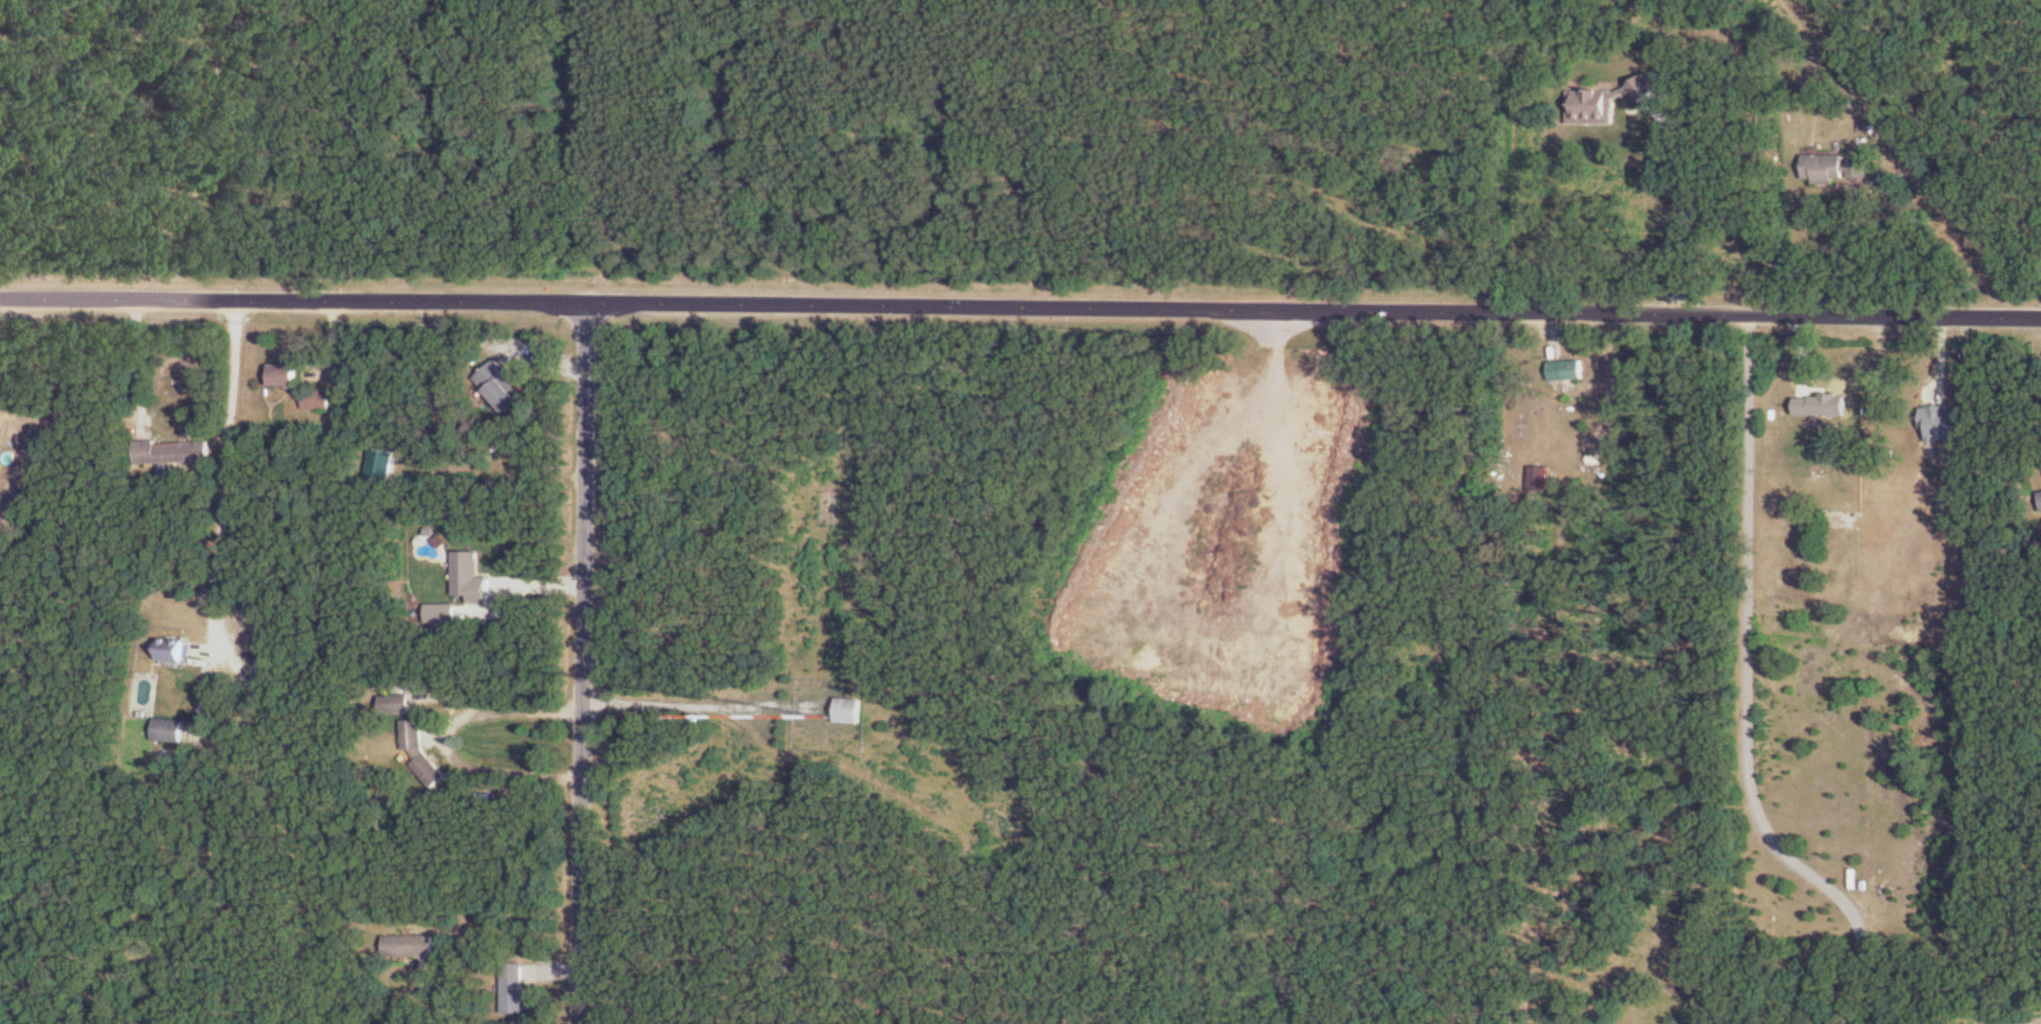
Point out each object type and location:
building: (1603, 102)
building: (1834, 169)
road: (1688, 216)
road: (1814, 247)
road: (1020, 304)
building: (1566, 371)
road: (1956, 371)
building: (287, 374)
building: (499, 387)
building: (1864, 395)
building: (319, 398)
building: (1, 423)
building: (174, 451)
road: (228, 462)
building: (1539, 479)
building: (2040, 492)
building: (176, 650)
road: (585, 661)
road: (1748, 692)
road: (678, 701)
building: (399, 704)
building: (848, 710)
building: (171, 729)
road: (451, 739)
building: (410, 945)
building: (514, 987)
road: (436, 999)

